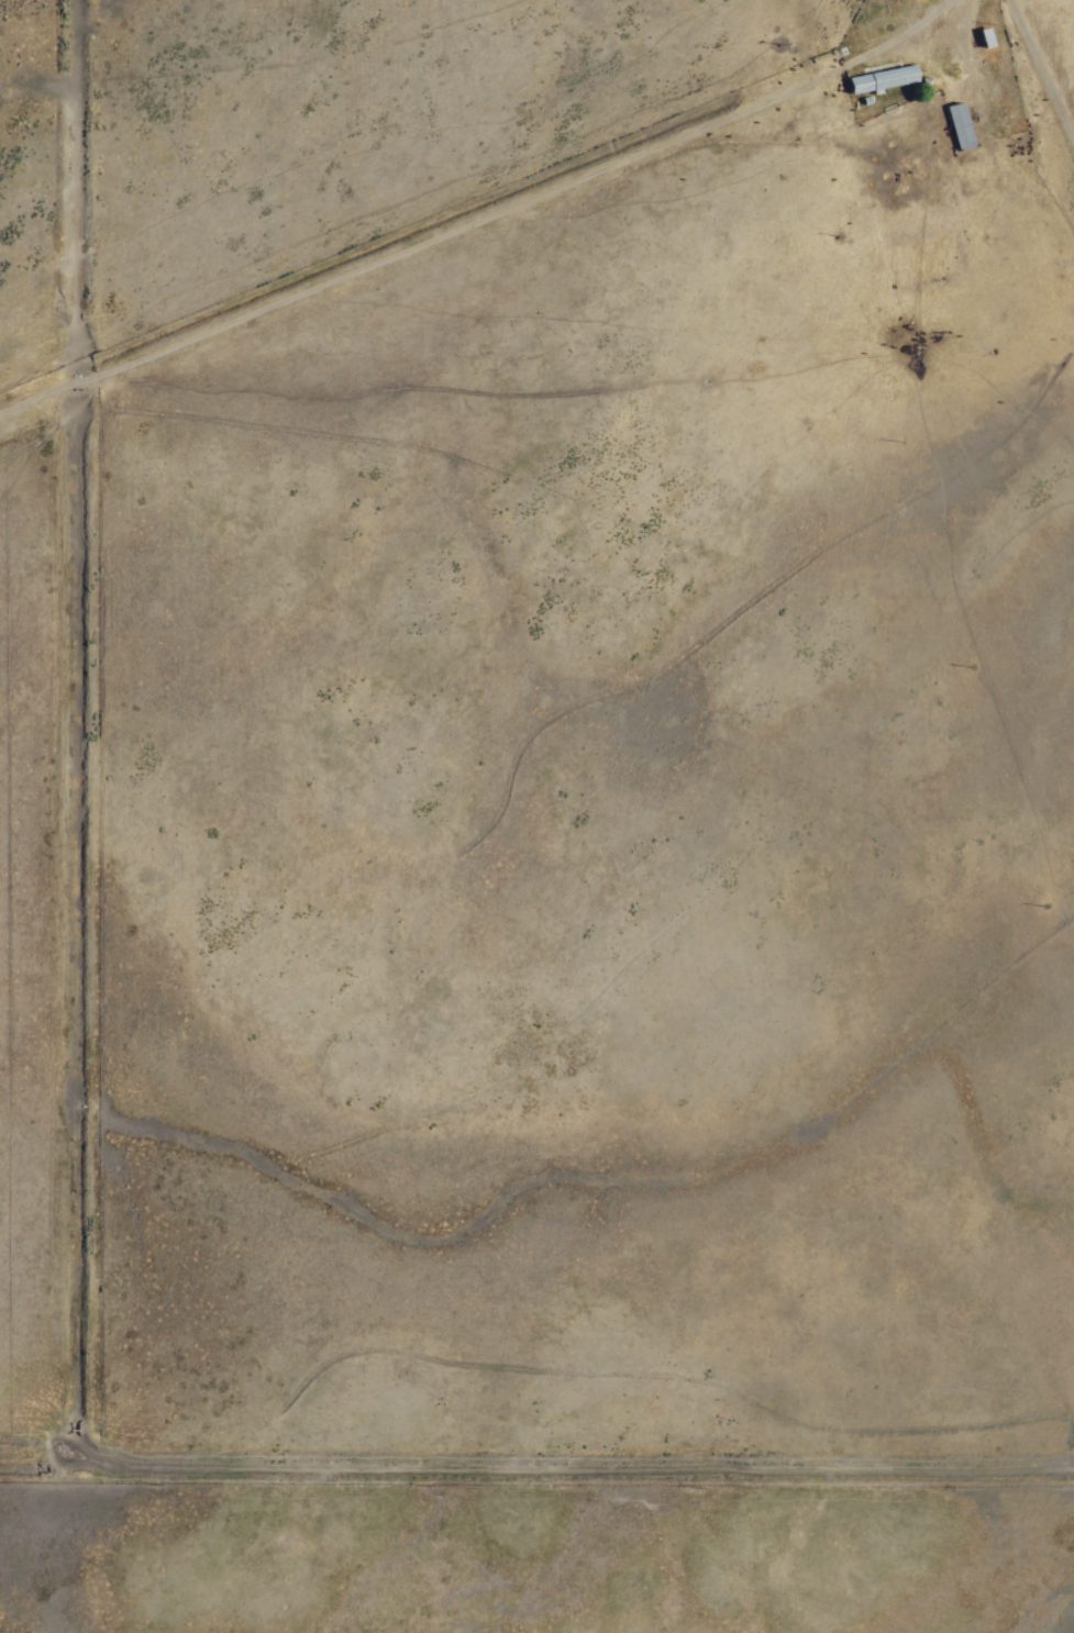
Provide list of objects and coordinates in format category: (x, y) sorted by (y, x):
road: (1038, 74)
building: (954, 124)
road: (468, 198)
crop: (554, 811)
crop: (26, 963)

